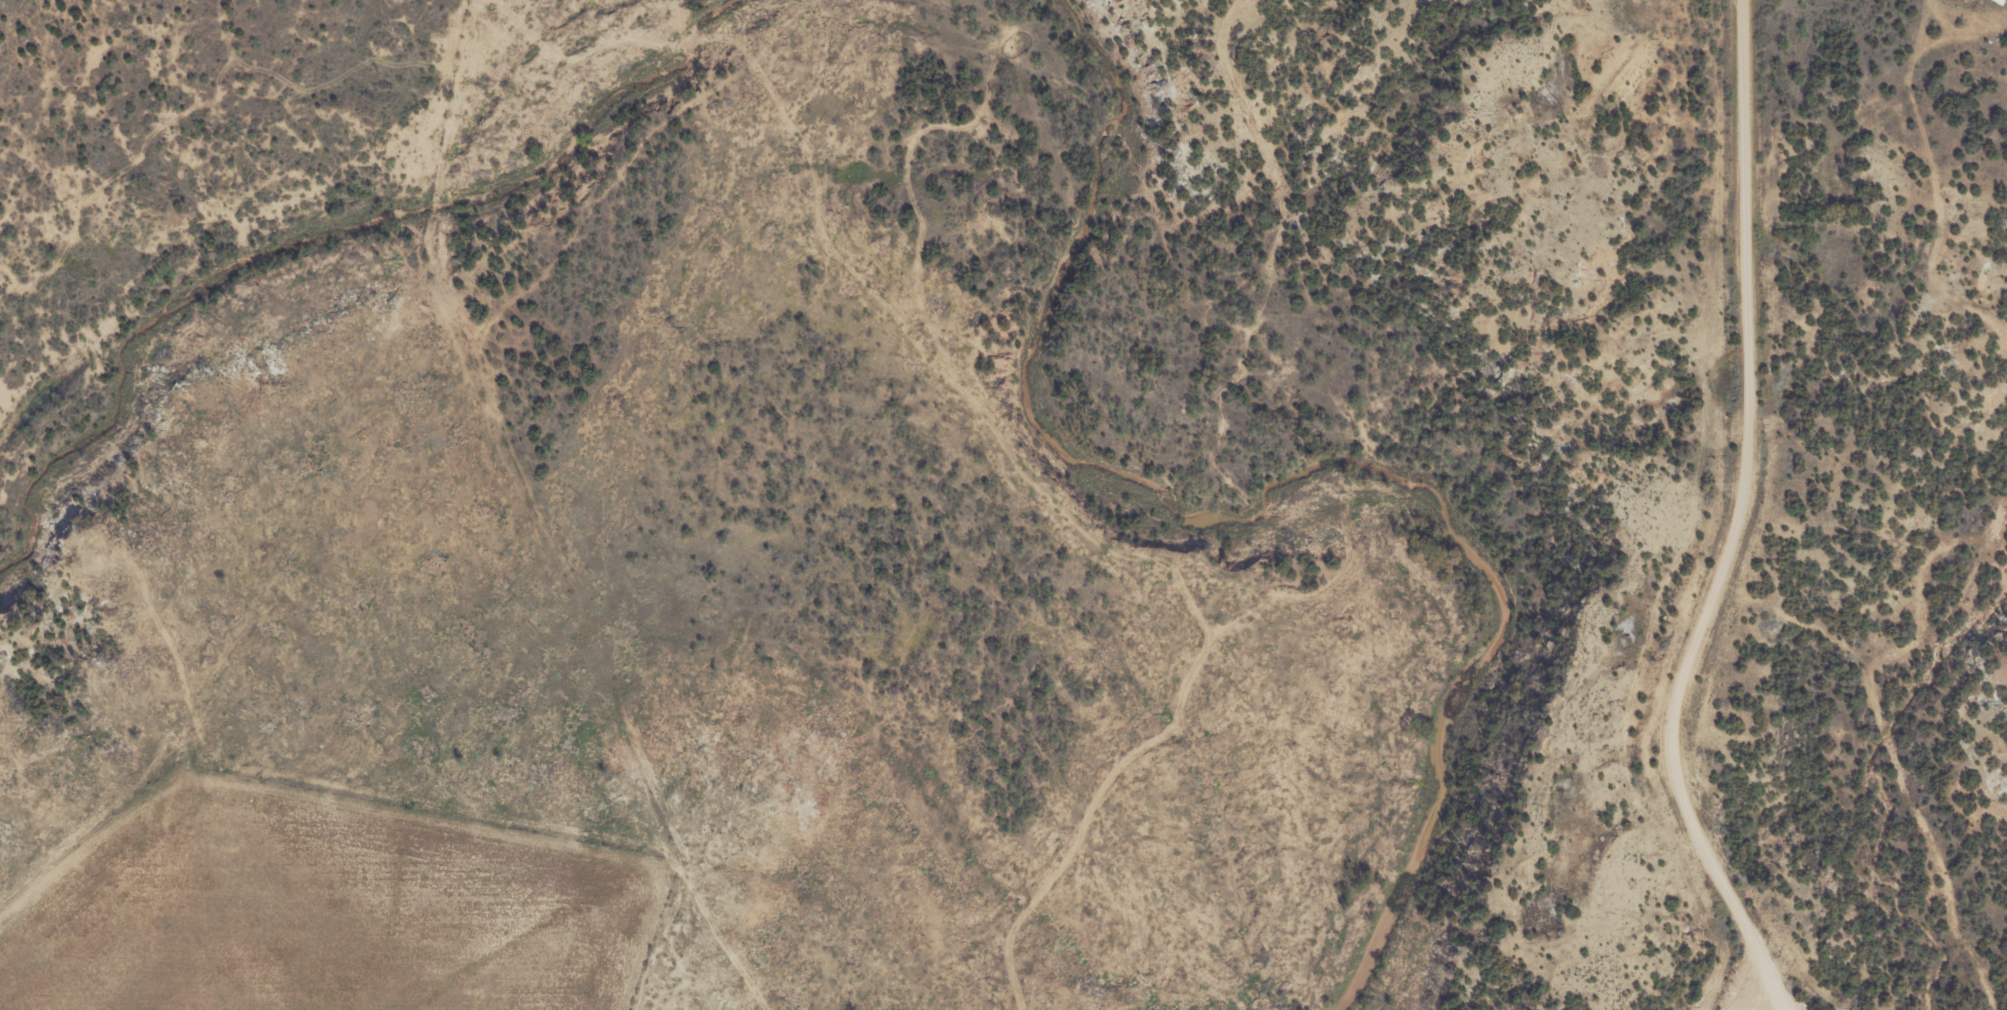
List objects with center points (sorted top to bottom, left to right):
road: (1740, 522)

